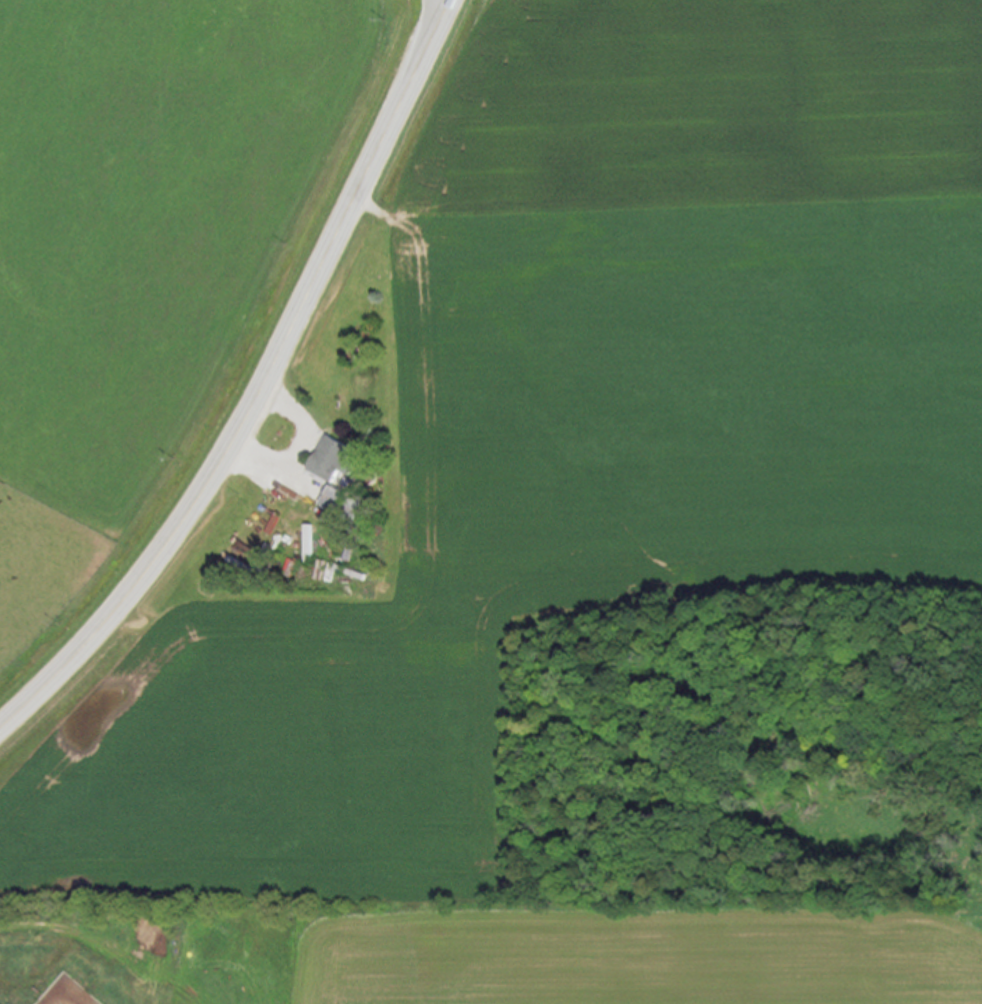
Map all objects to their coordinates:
road: (262, 389)
road: (299, 447)
building: (337, 461)
building: (350, 506)
building: (312, 545)
building: (1, 1002)

